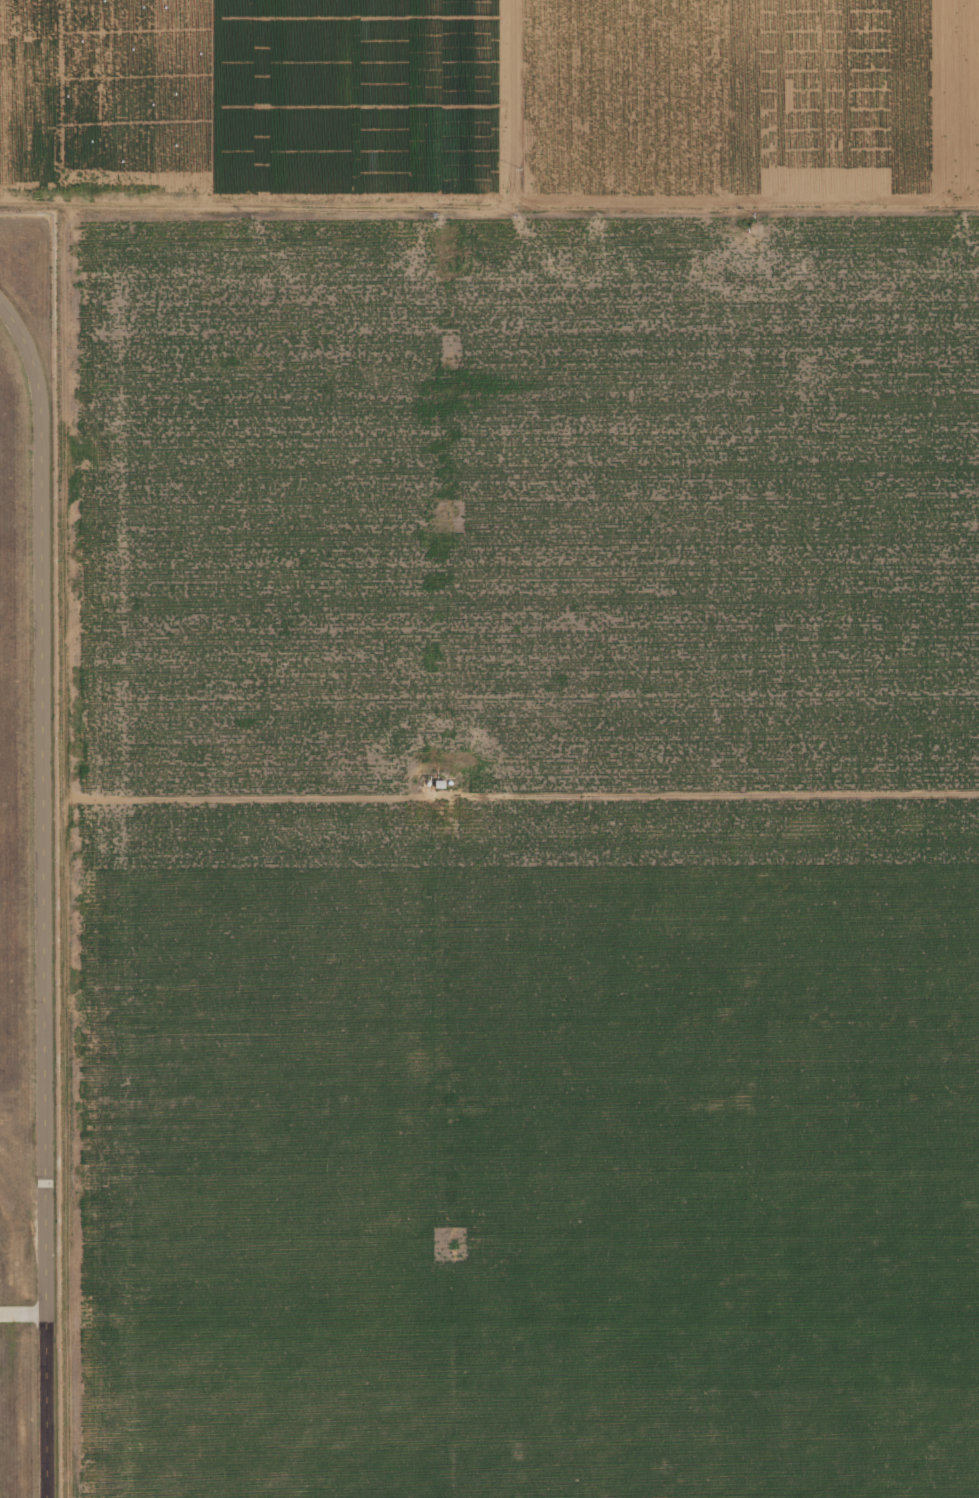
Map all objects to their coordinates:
road: (507, 1)
building: (449, 782)
building: (439, 784)
road: (521, 795)
airport: (26, 868)
road: (42, 896)
road: (22, 1314)

